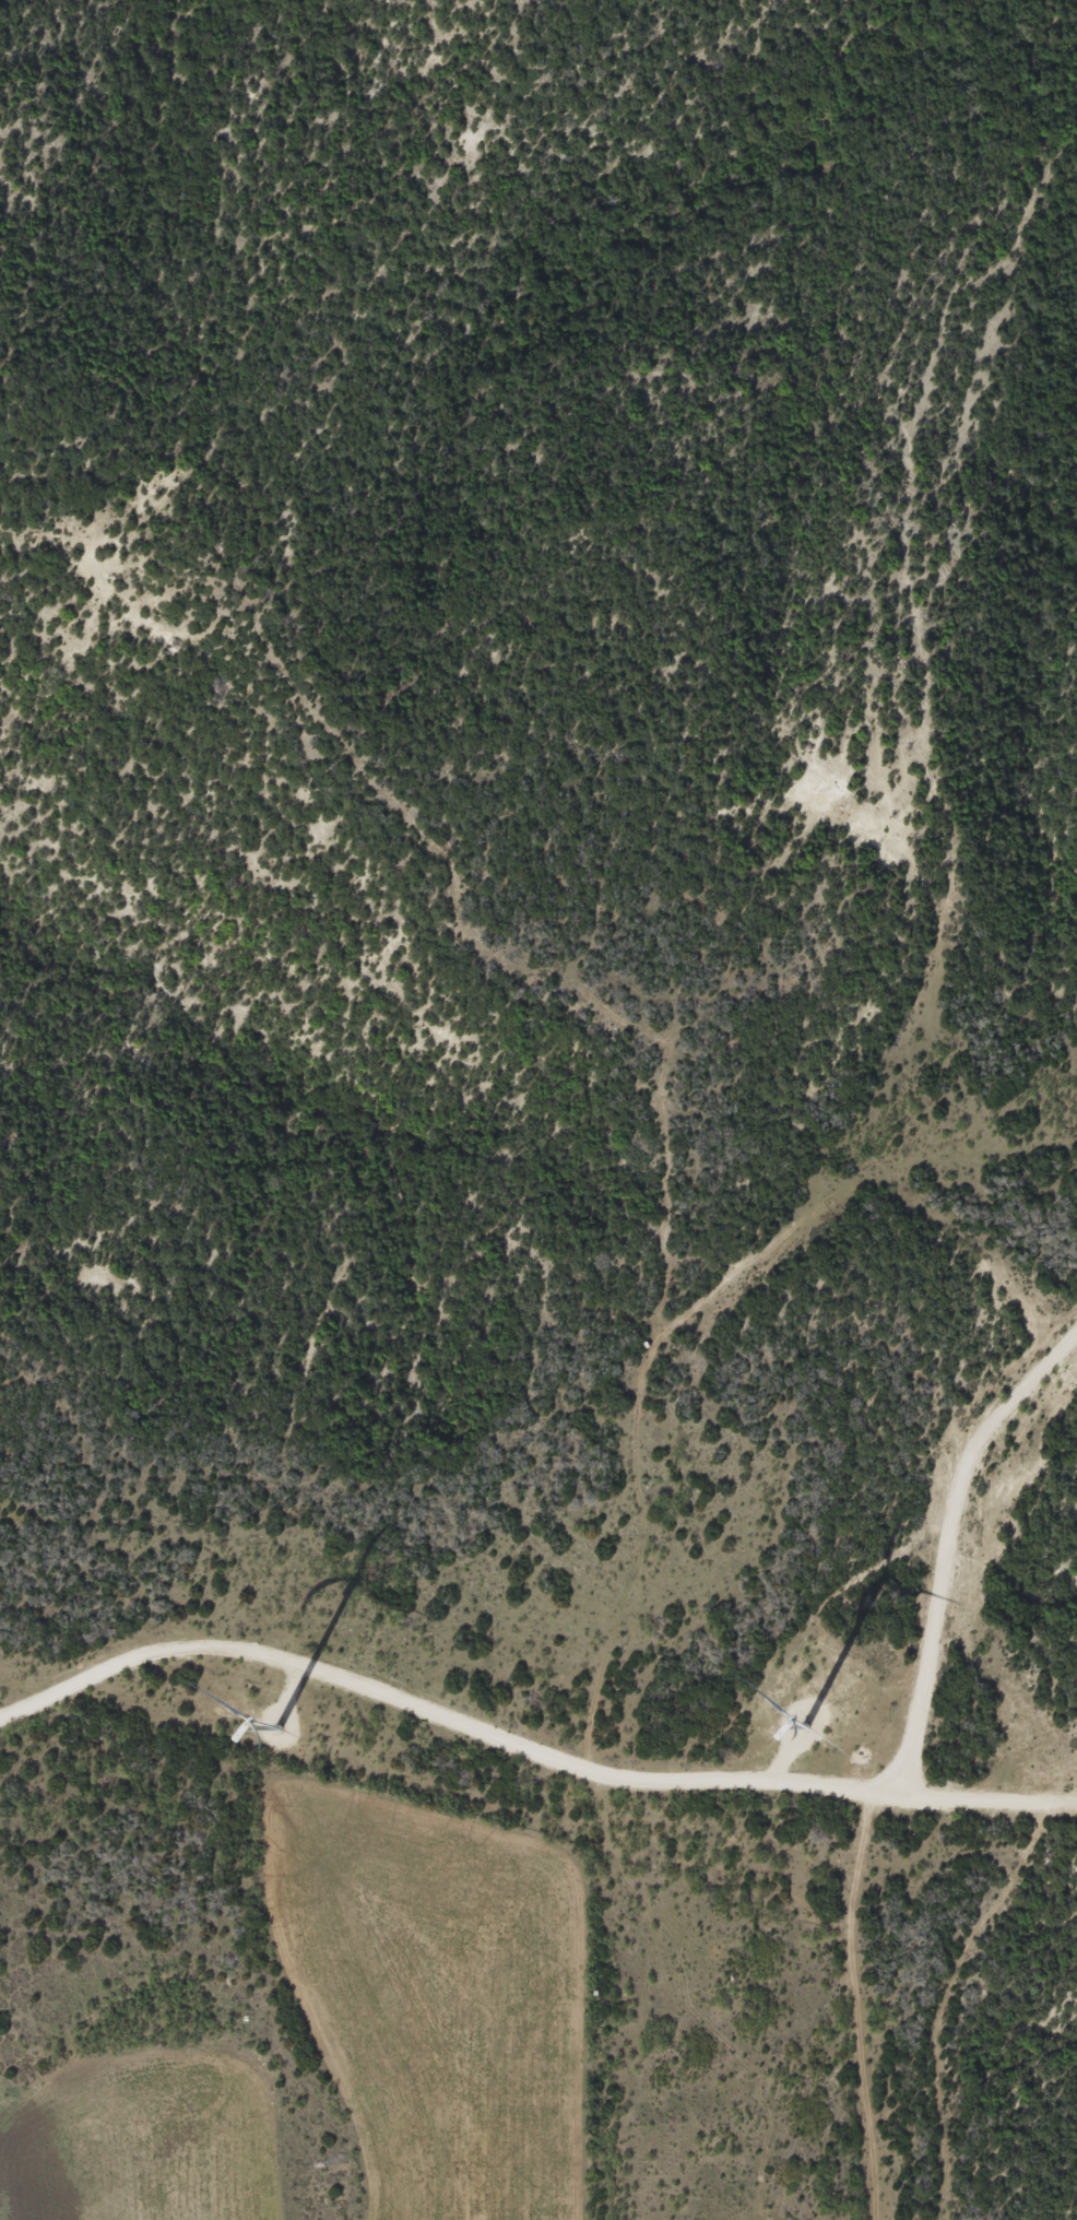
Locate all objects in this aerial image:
road: (945, 1546)
wind turbine: (273, 1726)
wind turbine: (796, 1726)
road: (522, 1741)

